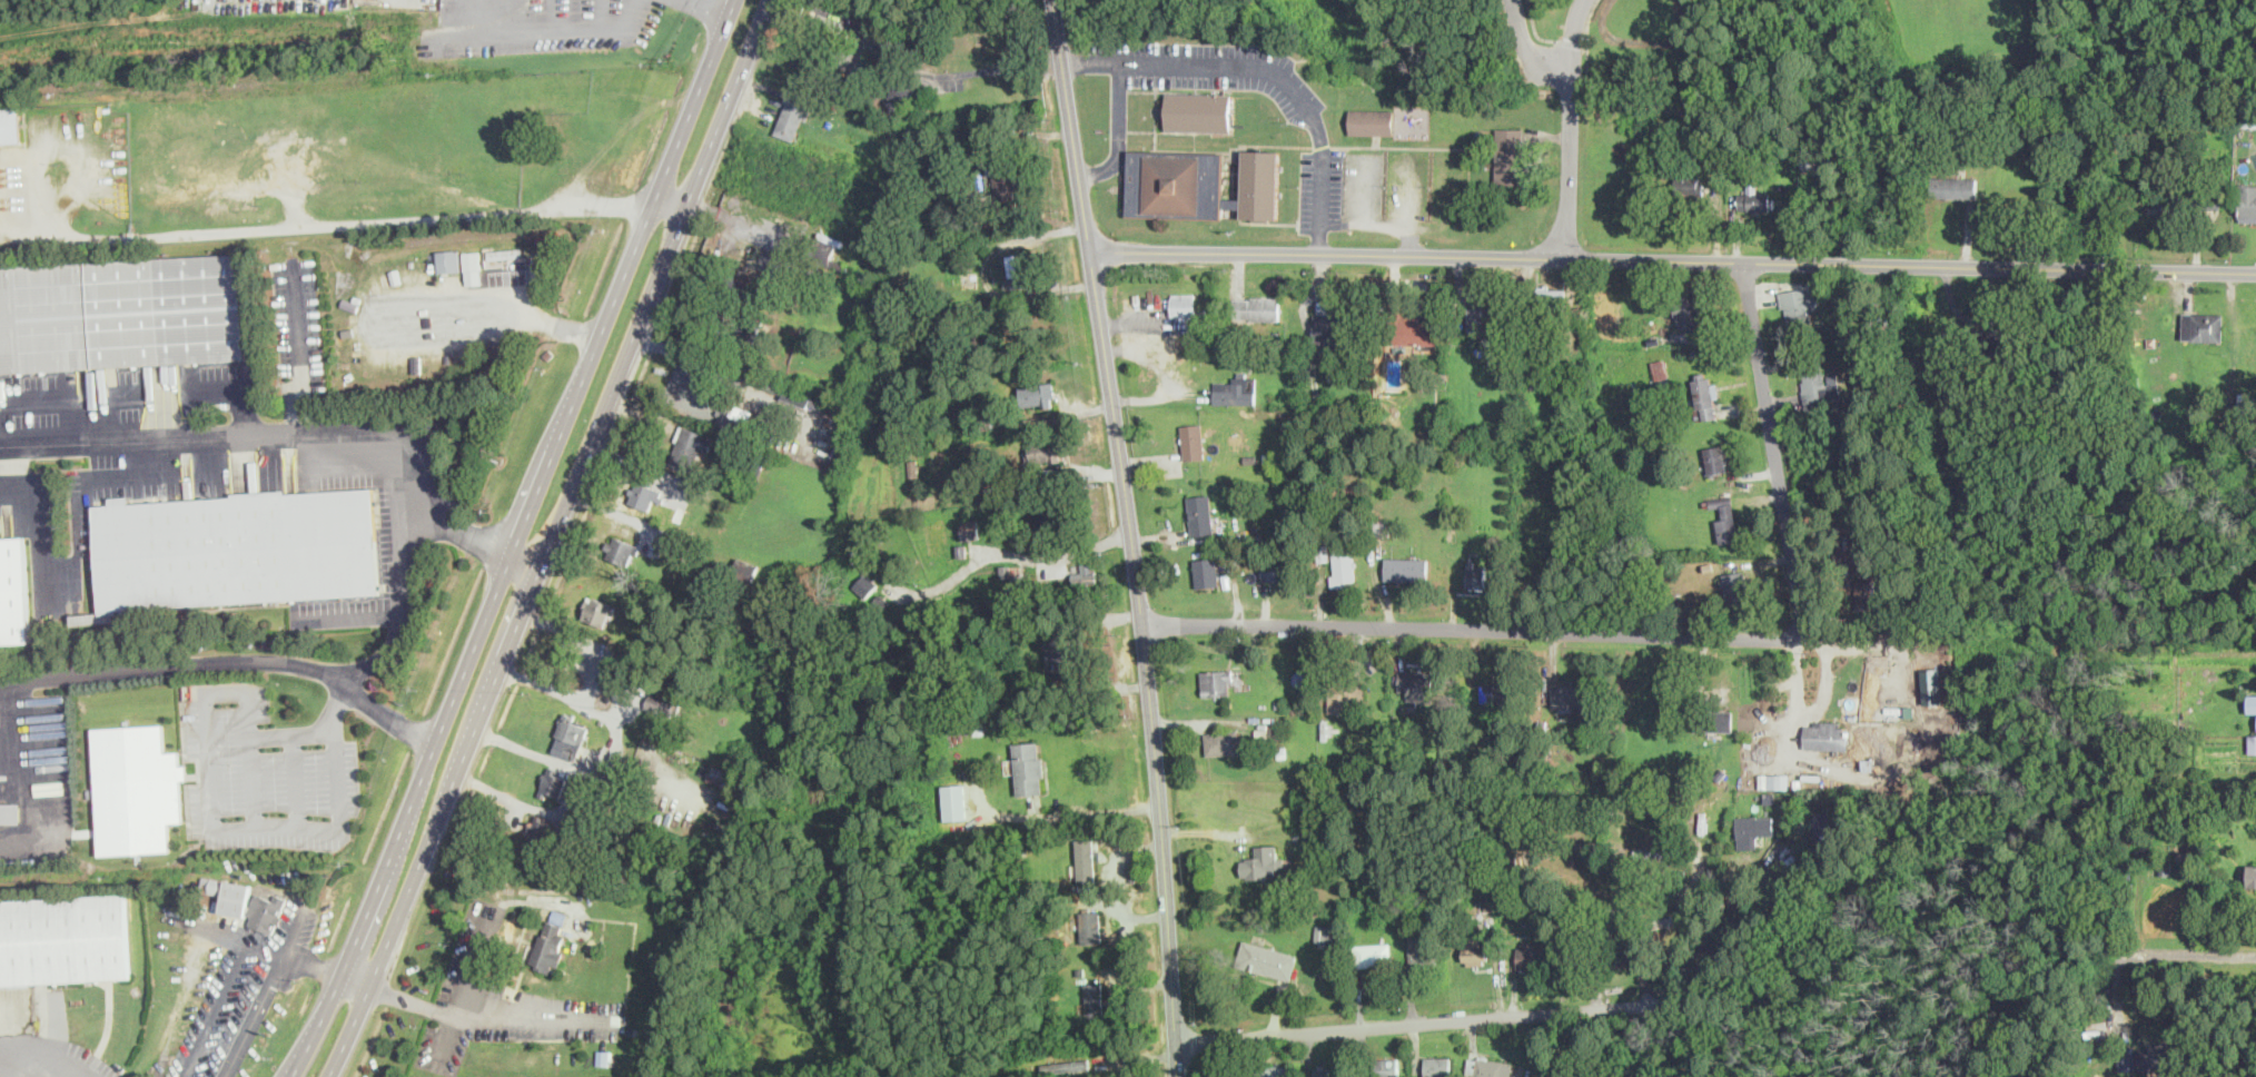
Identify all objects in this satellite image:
road: (710, 6)
road: (557, 18)
road: (1533, 28)
road: (550, 36)
road: (1522, 37)
road: (1571, 41)
road: (1572, 43)
road: (1586, 43)
building: (858, 62)
road: (1268, 69)
road: (918, 72)
building: (1199, 111)
building: (793, 115)
building: (2249, 118)
building: (1371, 121)
building: (10, 123)
road: (1120, 131)
road: (1571, 151)
building: (1508, 155)
building: (1812, 156)
building: (1006, 179)
building: (1201, 184)
building: (1689, 184)
building: (1953, 186)
building: (1753, 198)
road: (669, 201)
building: (2247, 201)
building: (2190, 202)
road: (392, 220)
road: (67, 238)
building: (531, 248)
building: (502, 254)
building: (448, 259)
road: (1673, 260)
building: (1026, 263)
building: (473, 266)
building: (1548, 299)
building: (1184, 304)
building: (1799, 306)
building: (1256, 307)
building: (1688, 310)
building: (120, 313)
building: (1483, 317)
building: (2203, 326)
building: (1412, 329)
building: (1332, 337)
building: (1993, 339)
road: (685, 355)
building: (1660, 369)
road: (217, 384)
building: (1819, 387)
building: (1234, 389)
building: (1705, 394)
building: (1037, 395)
building: (801, 398)
building: (734, 416)
road: (283, 436)
building: (1193, 441)
building: (689, 448)
building: (1043, 451)
road: (1775, 452)
building: (1714, 458)
road: (11, 472)
building: (646, 494)
road: (620, 514)
building: (1203, 515)
building: (1050, 518)
building: (1725, 518)
building: (969, 528)
road: (1130, 536)
road: (513, 538)
road: (551, 538)
building: (237, 549)
building: (620, 549)
road: (1011, 553)
road: (522, 563)
building: (1343, 567)
building: (1406, 567)
building: (744, 570)
building: (1207, 571)
building: (1274, 571)
building: (1476, 574)
building: (1084, 575)
building: (1017, 576)
building: (867, 583)
building: (1734, 586)
building: (1870, 591)
building: (14, 593)
road: (407, 606)
building: (596, 610)
road: (1530, 630)
building: (1059, 654)
road: (228, 660)
building: (1217, 682)
building: (1418, 685)
building: (1930, 685)
building: (1494, 691)
building: (1344, 694)
building: (1571, 694)
road: (620, 700)
building: (662, 702)
building: (2252, 703)
road: (339, 708)
road: (1810, 712)
building: (1713, 720)
building: (1825, 734)
building: (570, 737)
building: (1224, 742)
building: (2252, 742)
road: (527, 748)
building: (1028, 767)
building: (718, 774)
road: (296, 777)
road: (251, 778)
building: (1773, 780)
building: (552, 783)
building: (136, 788)
building: (954, 801)
road: (563, 810)
road: (1092, 810)
building: (11, 812)
road: (37, 817)
building: (1827, 822)
road: (342, 824)
building: (1752, 829)
building: (540, 830)
building: (1313, 853)
building: (1086, 859)
building: (1261, 862)
building: (2252, 875)
building: (228, 892)
building: (267, 910)
building: (1669, 920)
building: (1090, 926)
road: (1731, 929)
building: (1326, 933)
building: (63, 939)
building: (548, 945)
building: (1423, 947)
road: (2159, 948)
building: (1474, 949)
building: (1530, 954)
building: (1374, 955)
building: (1266, 959)
road: (473, 960)
road: (239, 974)
road: (356, 979)
building: (1095, 1000)
road: (484, 1014)
road: (255, 1017)
road: (1444, 1020)
building: (2155, 1056)
building: (2127, 1058)
building: (1065, 1065)
building: (1437, 1066)
building: (1386, 1067)
building: (1488, 1067)
road: (8, 1068)
road: (39, 1069)
building: (1276, 1069)
building: (1329, 1070)

